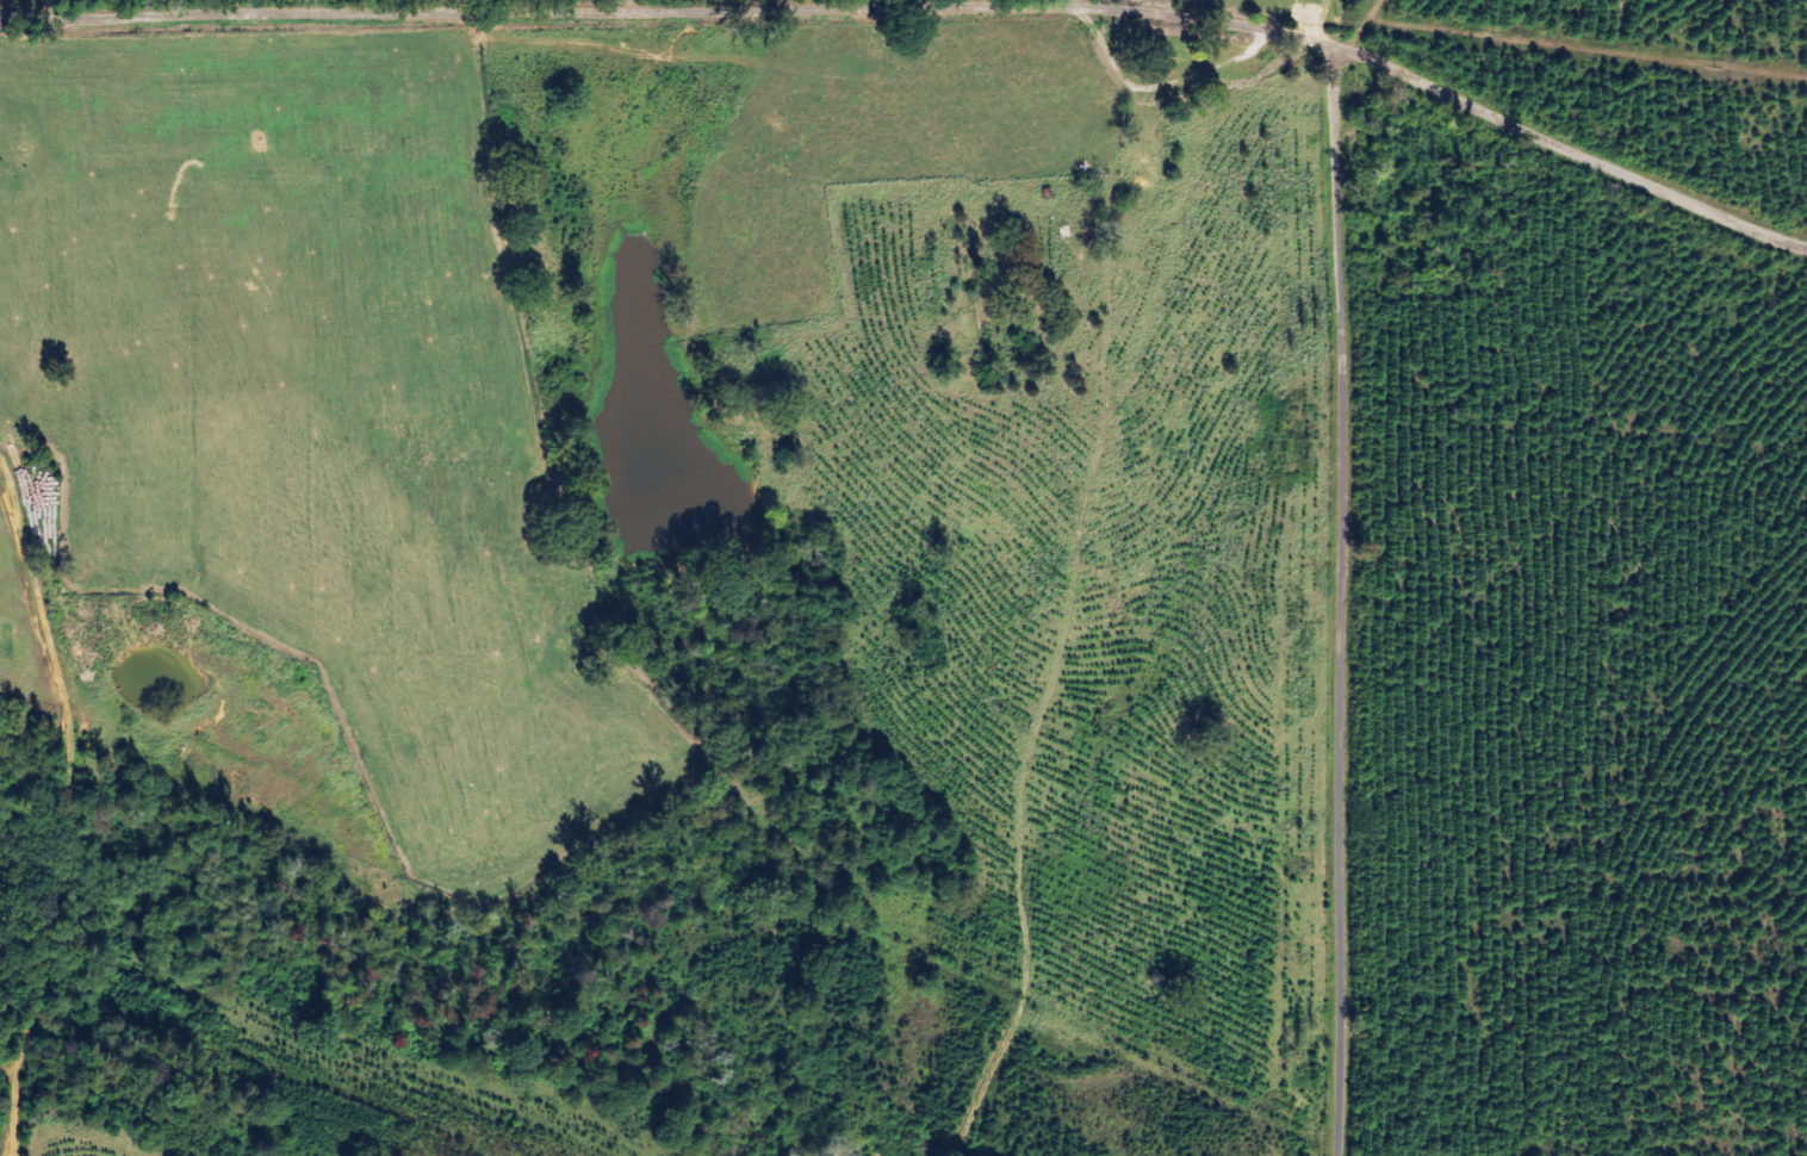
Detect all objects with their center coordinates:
road: (970, 5)
road: (1340, 596)

